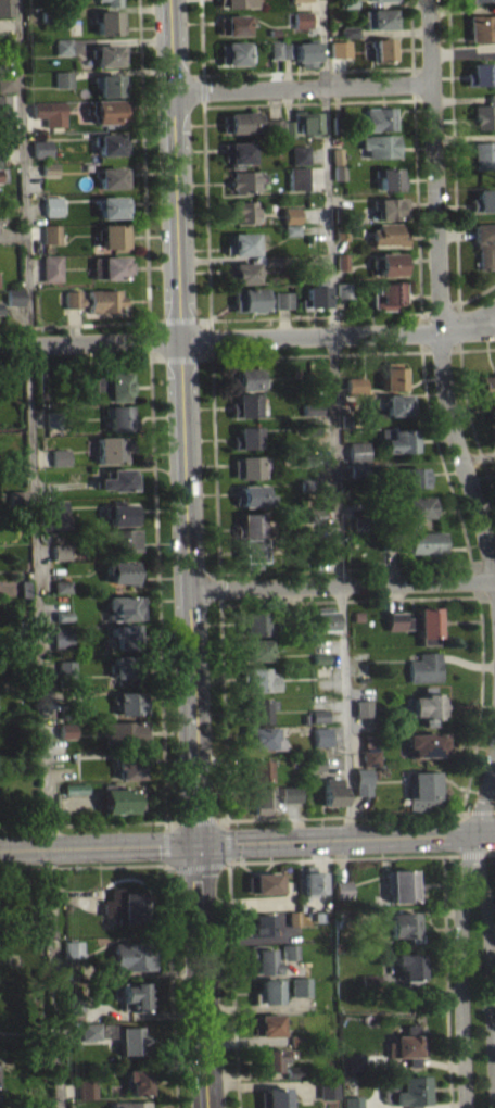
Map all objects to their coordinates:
building: (297, 0)
building: (479, 0)
building: (111, 2)
building: (237, 2)
building: (347, 2)
road: (397, 2)
building: (382, 3)
road: (113, 7)
building: (7, 8)
road: (461, 9)
building: (49, 15)
building: (332, 15)
building: (380, 17)
building: (302, 18)
building: (110, 21)
building: (234, 23)
building: (302, 26)
building: (482, 26)
building: (348, 30)
road: (394, 30)
road: (411, 34)
building: (348, 38)
road: (120, 41)
road: (202, 43)
building: (63, 46)
building: (340, 48)
road: (462, 48)
building: (275, 49)
building: (287, 49)
building: (382, 49)
building: (234, 52)
building: (305, 52)
building: (62, 53)
building: (107, 53)
road: (462, 53)
road: (122, 70)
road: (339, 70)
road: (287, 71)
road: (307, 71)
road: (276, 72)
building: (479, 73)
building: (63, 78)
building: (8, 80)
building: (110, 84)
road: (414, 84)
road: (303, 85)
road: (460, 99)
road: (338, 100)
road: (274, 101)
road: (308, 102)
building: (3, 108)
building: (50, 111)
building: (109, 111)
building: (484, 113)
building: (380, 117)
building: (240, 121)
building: (307, 121)
building: (338, 124)
building: (275, 127)
building: (289, 127)
road: (464, 136)
building: (8, 137)
road: (333, 141)
building: (111, 142)
building: (380, 144)
building: (42, 148)
road: (453, 150)
building: (239, 152)
building: (300, 153)
road: (317, 153)
building: (483, 153)
building: (337, 155)
road: (143, 160)
building: (50, 167)
building: (340, 172)
building: (2, 174)
road: (317, 175)
building: (50, 176)
building: (113, 176)
building: (299, 177)
building: (389, 177)
building: (246, 180)
building: (2, 181)
building: (482, 199)
building: (53, 205)
building: (113, 205)
road: (35, 207)
building: (390, 207)
building: (241, 211)
building: (340, 213)
building: (1, 214)
building: (292, 214)
road: (314, 214)
road: (207, 223)
building: (291, 228)
building: (341, 231)
building: (51, 232)
road: (35, 234)
building: (389, 234)
road: (455, 234)
building: (113, 235)
building: (291, 237)
building: (242, 243)
building: (484, 243)
road: (221, 259)
building: (272, 261)
building: (342, 261)
building: (389, 263)
building: (51, 266)
building: (110, 266)
road: (35, 268)
building: (242, 272)
building: (310, 273)
road: (325, 273)
road: (338, 276)
building: (344, 289)
road: (330, 291)
building: (386, 293)
road: (437, 293)
road: (477, 293)
building: (316, 294)
building: (14, 295)
building: (343, 297)
building: (96, 299)
building: (250, 299)
building: (283, 299)
road: (439, 305)
building: (282, 306)
building: (0, 307)
road: (339, 310)
road: (420, 311)
building: (0, 317)
road: (467, 318)
road: (180, 322)
road: (284, 322)
road: (84, 324)
road: (74, 325)
road: (338, 333)
road: (90, 342)
road: (477, 348)
road: (150, 350)
road: (212, 356)
road: (99, 358)
road: (75, 361)
building: (392, 376)
building: (249, 377)
building: (316, 377)
road: (328, 378)
building: (356, 383)
building: (114, 385)
building: (488, 390)
building: (100, 391)
building: (355, 392)
building: (399, 403)
building: (245, 404)
building: (312, 408)
road: (469, 416)
building: (120, 417)
building: (56, 418)
building: (345, 419)
road: (183, 421)
building: (313, 425)
building: (246, 437)
building: (397, 439)
building: (113, 446)
building: (357, 451)
road: (341, 452)
road: (43, 456)
building: (61, 456)
road: (478, 456)
building: (309, 458)
road: (326, 458)
road: (441, 458)
building: (246, 466)
building: (309, 467)
building: (358, 469)
building: (409, 477)
building: (118, 479)
road: (328, 483)
road: (65, 484)
building: (309, 484)
building: (253, 495)
road: (486, 504)
building: (418, 506)
building: (120, 512)
building: (58, 514)
building: (316, 515)
road: (330, 515)
building: (361, 522)
building: (252, 525)
building: (359, 530)
building: (123, 539)
building: (391, 541)
building: (427, 544)
building: (326, 545)
building: (250, 549)
building: (62, 550)
road: (36, 554)
building: (62, 558)
road: (156, 559)
road: (356, 567)
building: (119, 570)
road: (342, 582)
building: (61, 584)
building: (62, 593)
road: (454, 595)
building: (122, 605)
building: (62, 614)
building: (320, 618)
building: (64, 622)
building: (415, 622)
building: (254, 624)
building: (409, 630)
building: (123, 633)
building: (61, 635)
building: (255, 649)
building: (319, 657)
building: (124, 664)
building: (423, 667)
building: (64, 670)
building: (321, 670)
building: (123, 675)
building: (259, 679)
building: (129, 702)
building: (360, 707)
building: (426, 707)
building: (66, 709)
building: (256, 709)
road: (223, 710)
road: (344, 710)
building: (317, 715)
building: (318, 722)
building: (66, 730)
building: (120, 731)
building: (261, 735)
building: (319, 735)
building: (66, 738)
building: (424, 743)
building: (368, 755)
building: (293, 759)
building: (313, 761)
building: (127, 766)
building: (255, 769)
building: (314, 770)
building: (363, 779)
building: (75, 786)
building: (421, 790)
building: (331, 791)
building: (290, 793)
building: (75, 795)
building: (261, 797)
building: (116, 798)
building: (289, 801)
road: (493, 810)
road: (480, 811)
road: (478, 814)
road: (337, 816)
road: (195, 819)
road: (219, 819)
road: (89, 822)
road: (165, 826)
road: (345, 840)
road: (227, 843)
traffic signals: (196, 844)
road: (166, 845)
road: (98, 846)
road: (490, 853)
road: (470, 854)
road: (340, 858)
road: (82, 865)
road: (198, 865)
road: (170, 868)
building: (264, 882)
building: (312, 882)
building: (398, 884)
building: (341, 890)
building: (124, 906)
building: (318, 916)
building: (293, 917)
building: (262, 924)
building: (403, 926)
building: (381, 932)
building: (73, 947)
building: (290, 950)
building: (134, 955)
road: (492, 955)
building: (74, 956)
building: (290, 958)
building: (262, 959)
building: (408, 968)
road: (202, 975)
road: (446, 981)
road: (232, 982)
building: (370, 982)
road: (172, 983)
building: (301, 985)
building: (268, 991)
road: (462, 991)
building: (136, 996)
building: (75, 1002)
building: (267, 1024)
building: (90, 1031)
building: (130, 1040)
building: (299, 1040)
building: (409, 1045)
building: (270, 1058)
building: (356, 1062)
building: (356, 1070)
building: (293, 1071)
building: (136, 1080)
building: (327, 1087)
building: (86, 1088)
building: (407, 1090)
building: (351, 1092)
building: (272, 1097)
building: (129, 1105)
building: (39, 1106)

